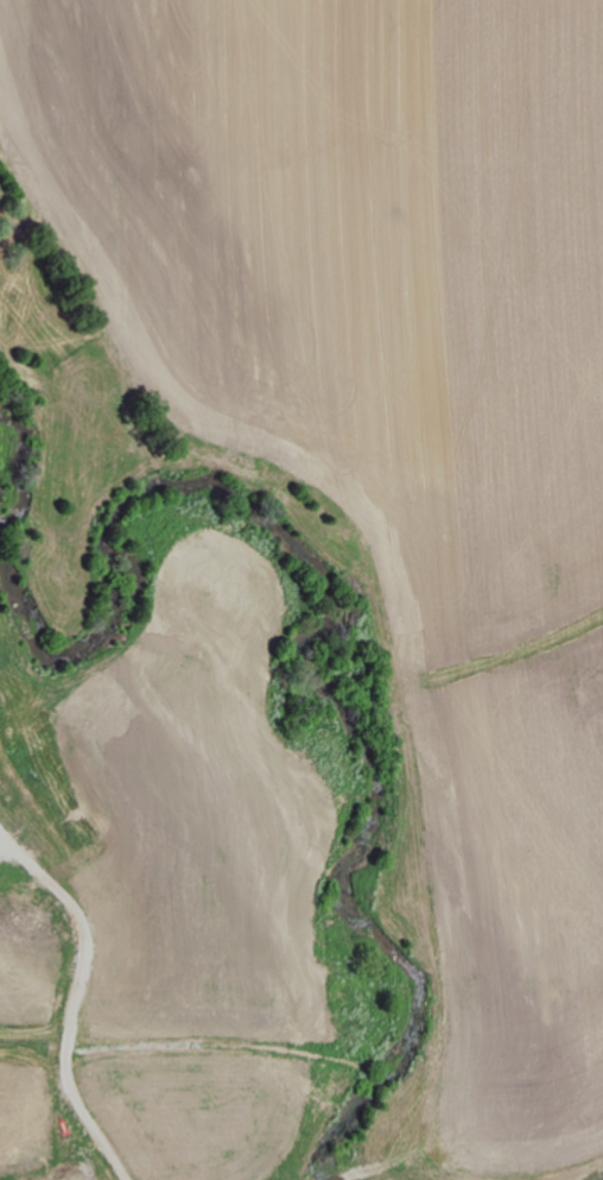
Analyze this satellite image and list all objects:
road: (71, 997)

